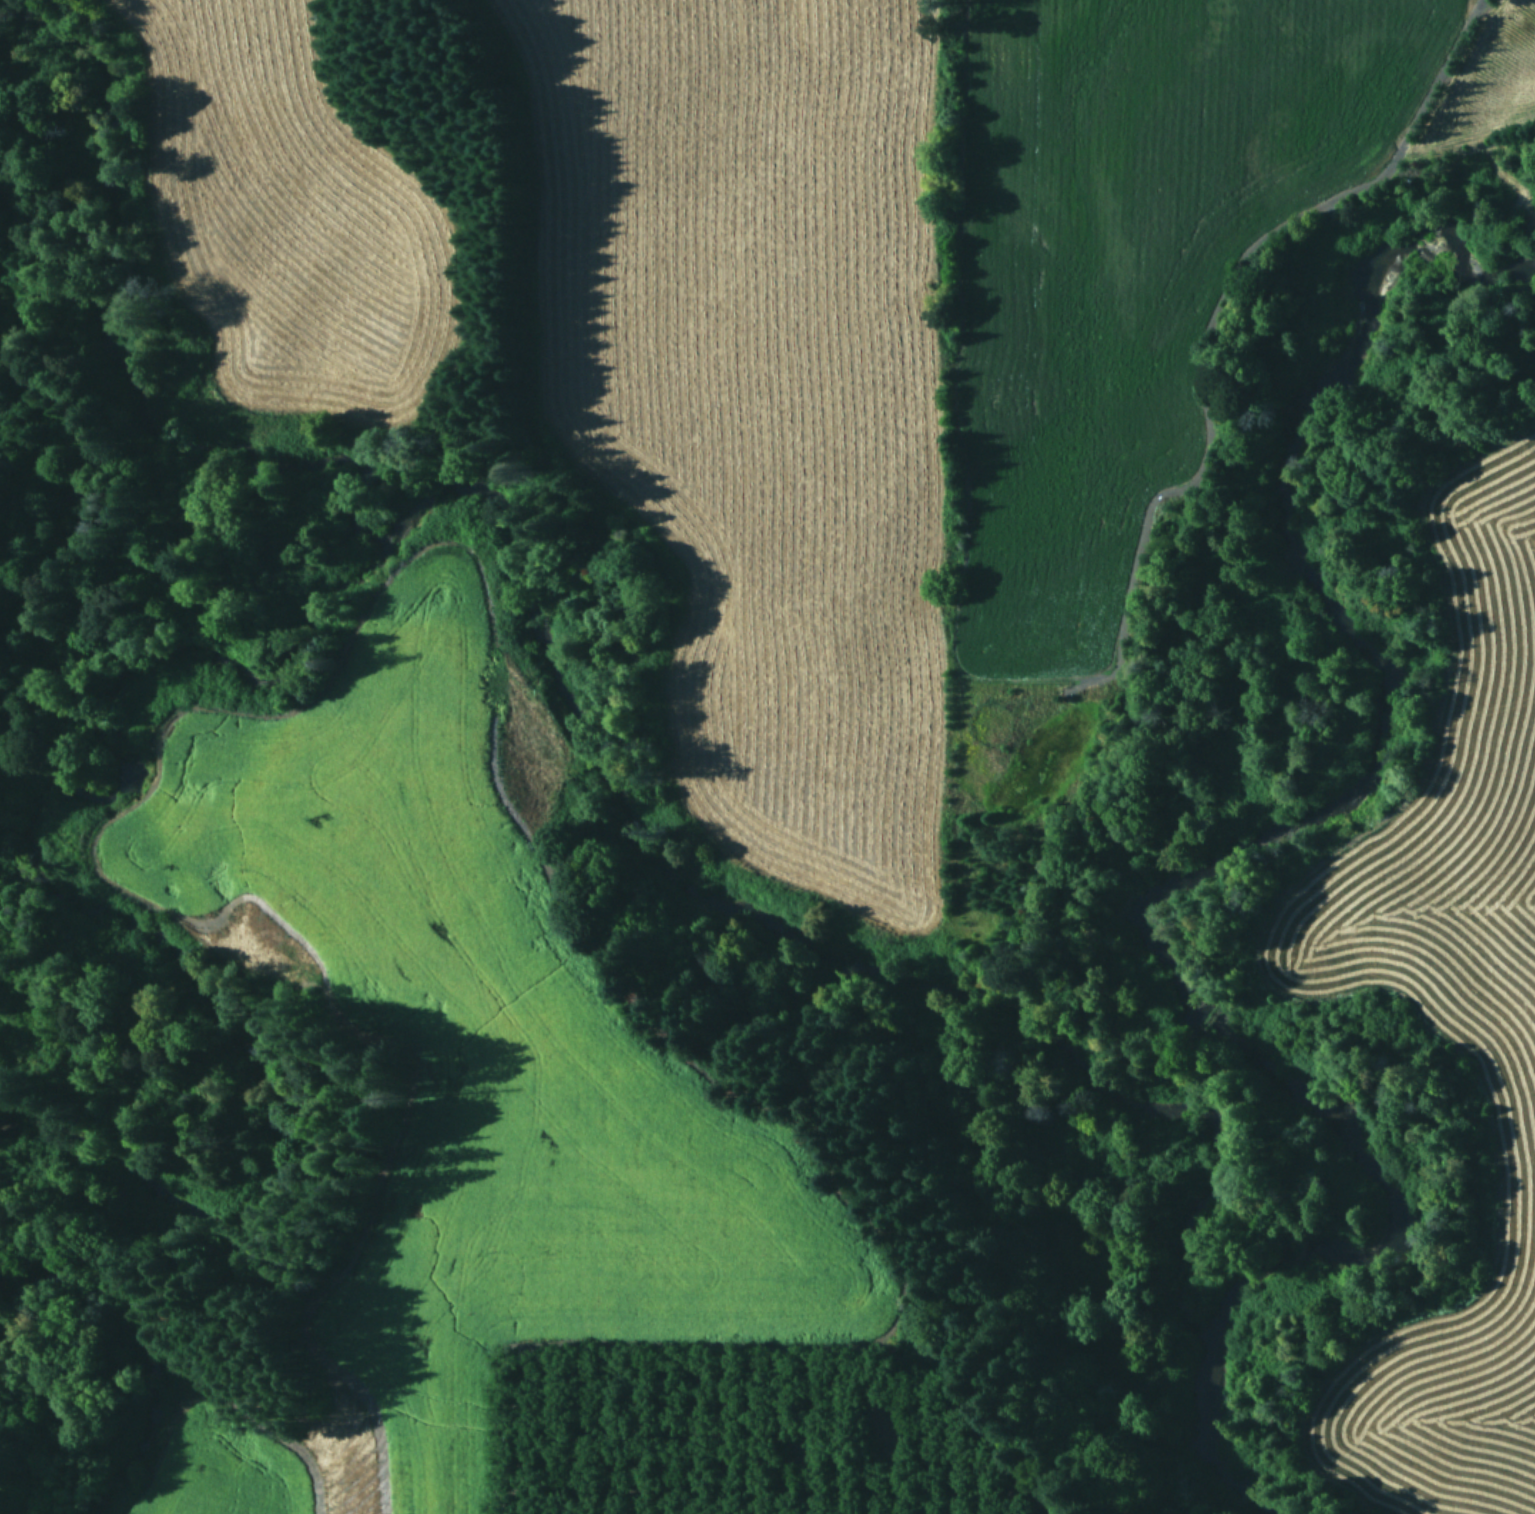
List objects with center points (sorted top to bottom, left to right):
crop: (277, 217)
crop: (920, 359)
river: (1222, 860)
crop: (1444, 1000)
crop: (454, 1065)

